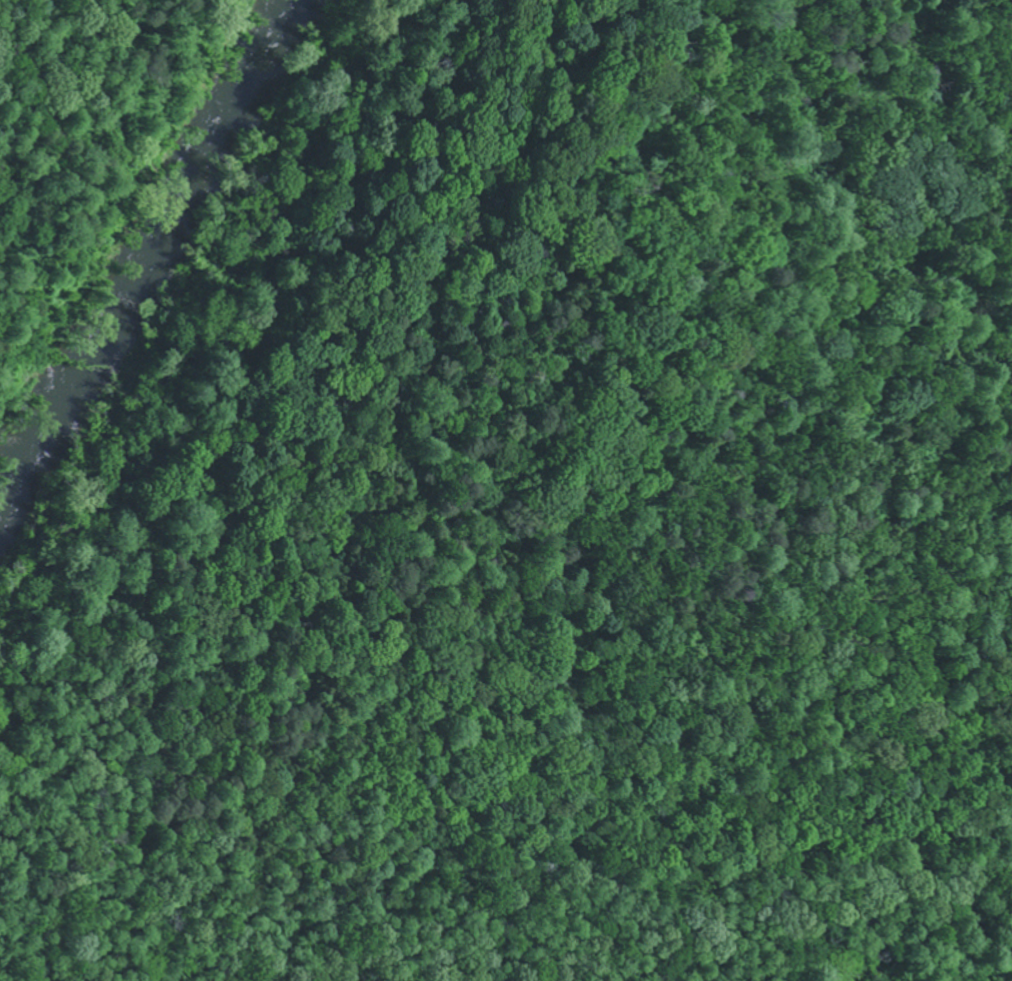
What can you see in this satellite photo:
river: (145, 258)

